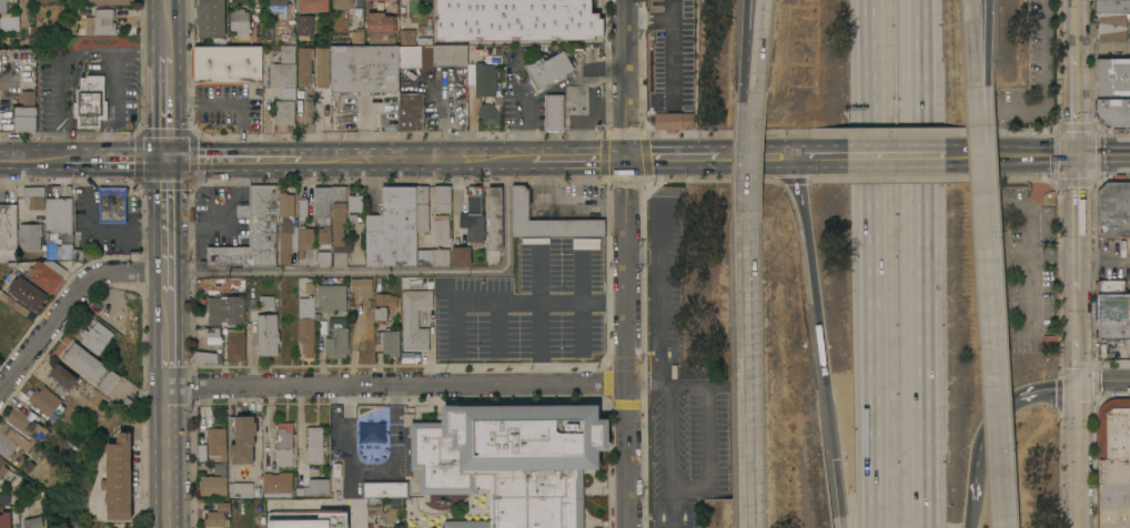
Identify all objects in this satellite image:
building: (367, 0)
building: (108, 2)
building: (343, 3)
building: (2, 6)
building: (276, 6)
building: (313, 6)
building: (1112, 6)
road: (1076, 11)
building: (211, 18)
building: (10, 21)
building: (254, 21)
building: (103, 22)
building: (240, 22)
building: (379, 22)
road: (165, 24)
building: (547, 24)
building: (305, 26)
building: (450, 27)
building: (428, 28)
building: (1110, 28)
road: (626, 33)
building: (357, 35)
building: (407, 37)
building: (381, 38)
building: (428, 39)
road: (978, 44)
road: (983, 44)
road: (749, 51)
road: (759, 51)
building: (287, 53)
building: (432, 55)
road: (65, 61)
road: (869, 63)
building: (226, 64)
building: (304, 67)
building: (322, 67)
road: (603, 68)
building: (364, 69)
building: (548, 69)
building: (1112, 77)
building: (284, 79)
building: (485, 79)
building: (670, 84)
road: (113, 87)
road: (1078, 90)
road: (528, 100)
building: (91, 102)
road: (167, 104)
building: (411, 111)
building: (1113, 111)
building: (285, 112)
building: (24, 113)
building: (553, 113)
gas station: (553, 113)
road: (627, 113)
building: (490, 114)
road: (581, 114)
road: (108, 141)
road: (1025, 155)
road: (1104, 155)
road: (909, 156)
traffic signals: (1079, 156)
road: (758, 158)
road: (823, 158)
road: (553, 159)
road: (604, 159)
traffic signals: (627, 159)
road: (674, 159)
road: (119, 160)
traffic signals: (167, 160)
road: (232, 160)
road: (411, 160)
road: (34, 161)
road: (750, 165)
building: (1119, 177)
building: (337, 193)
building: (33, 196)
building: (443, 197)
building: (322, 201)
building: (355, 202)
building: (113, 204)
building: (422, 207)
road: (627, 207)
building: (1113, 209)
building: (302, 210)
building: (57, 216)
road: (167, 216)
road: (224, 217)
building: (322, 221)
building: (495, 221)
building: (546, 221)
building: (286, 225)
road: (1079, 227)
building: (392, 229)
building: (441, 230)
building: (470, 231)
road: (662, 231)
building: (8, 232)
building: (252, 233)
building: (339, 234)
building: (30, 236)
building: (304, 240)
building: (324, 245)
building: (59, 252)
building: (77, 254)
building: (461, 256)
road: (645, 256)
building: (424, 257)
building: (440, 257)
road: (925, 264)
road: (392, 271)
building: (47, 274)
building: (307, 287)
building: (362, 287)
building: (1110, 287)
building: (27, 292)
building: (332, 298)
road: (167, 299)
building: (14, 303)
road: (68, 303)
road: (543, 305)
building: (384, 306)
building: (1113, 306)
road: (995, 308)
building: (225, 309)
building: (415, 319)
road: (663, 322)
building: (306, 325)
road: (871, 327)
building: (210, 332)
building: (1114, 333)
building: (268, 334)
building: (337, 337)
building: (93, 341)
building: (390, 342)
road: (819, 342)
road: (1079, 344)
building: (235, 345)
building: (209, 356)
road: (167, 357)
building: (406, 357)
building: (84, 362)
building: (64, 376)
road: (750, 378)
building: (109, 380)
road: (646, 380)
road: (1104, 383)
road: (398, 386)
traffic signals: (1080, 389)
road: (629, 392)
building: (47, 400)
road: (996, 414)
building: (23, 422)
road: (707, 434)
road: (668, 437)
building: (244, 439)
building: (12, 440)
building: (216, 444)
building: (315, 444)
building: (284, 445)
building: (201, 450)
road: (168, 458)
road: (1080, 458)
building: (504, 461)
building: (1113, 463)
building: (2, 467)
building: (219, 467)
building: (51, 477)
building: (118, 477)
building: (278, 484)
building: (214, 485)
building: (316, 486)
building: (241, 489)
building: (4, 498)
building: (395, 502)
building: (223, 506)
building: (374, 506)
road: (674, 508)
road: (969, 514)
building: (390, 516)
building: (4, 517)
building: (216, 519)
building: (305, 519)
building: (32, 522)

